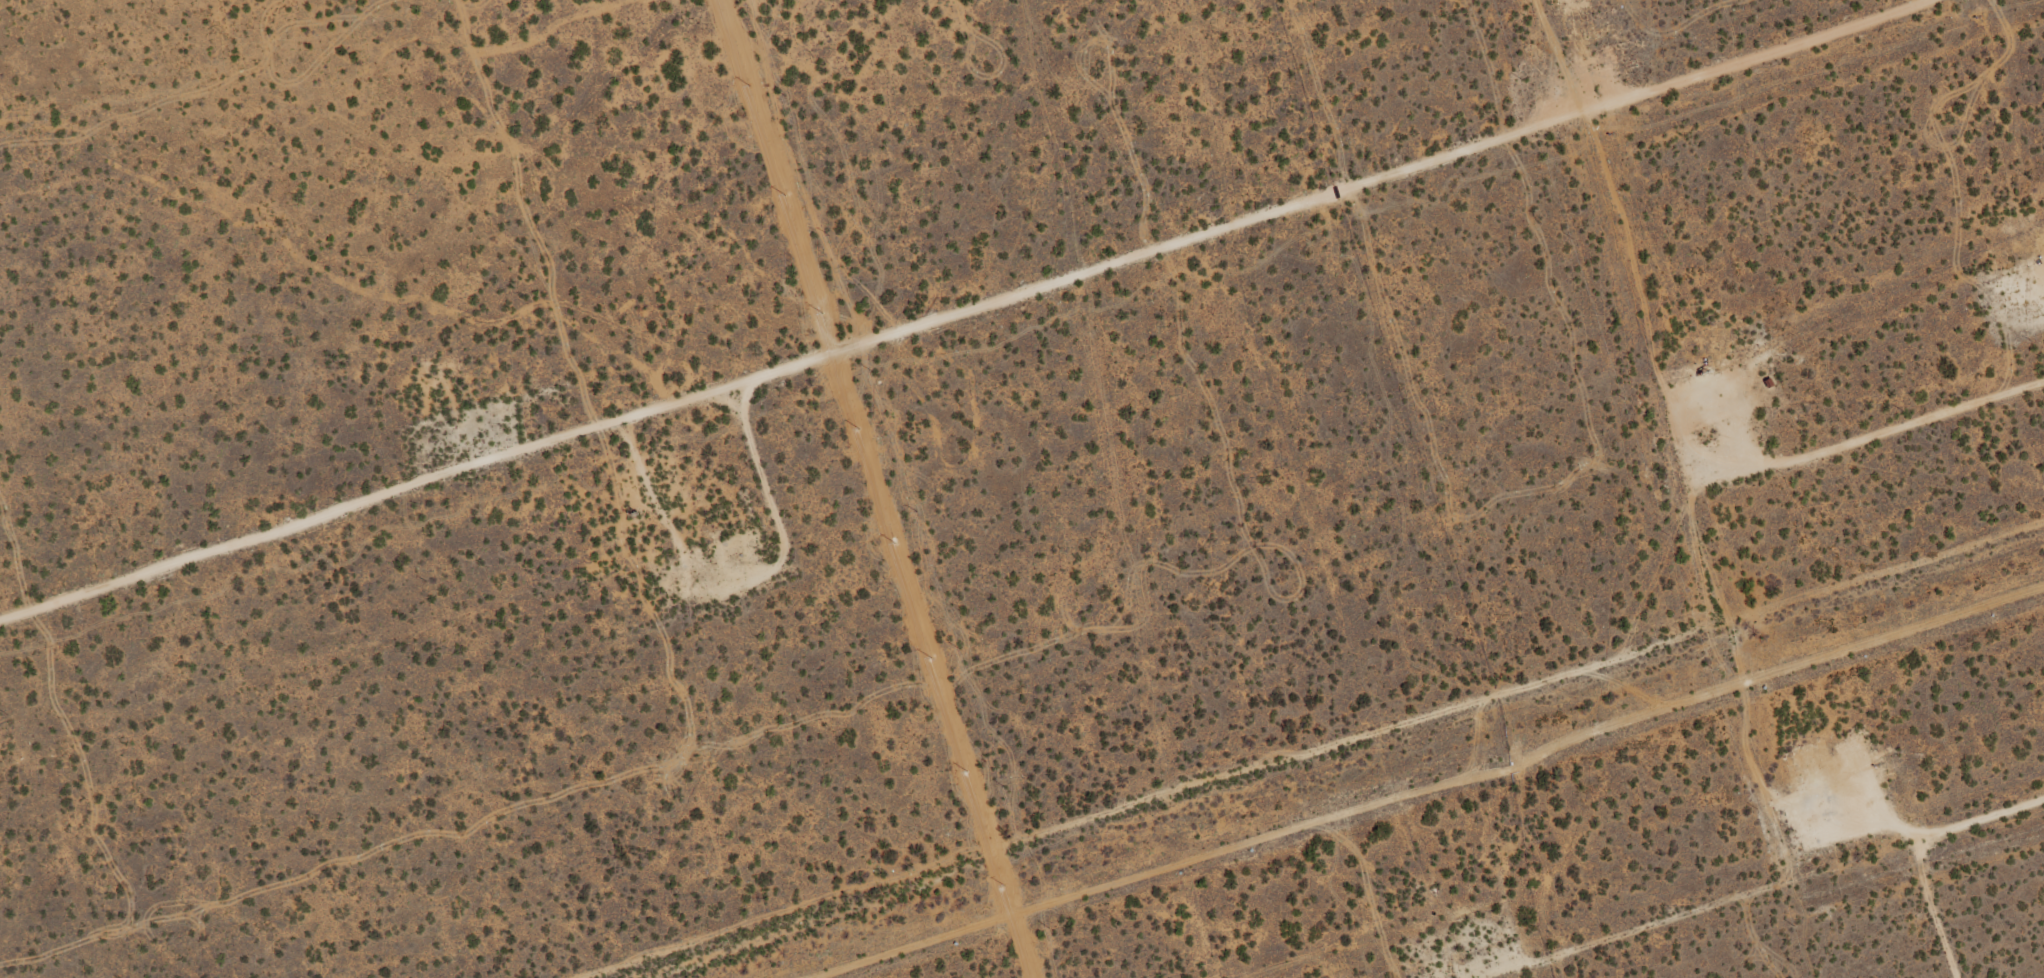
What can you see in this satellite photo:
road: (975, 314)
road: (1871, 441)
road: (1987, 818)
road: (1156, 878)

